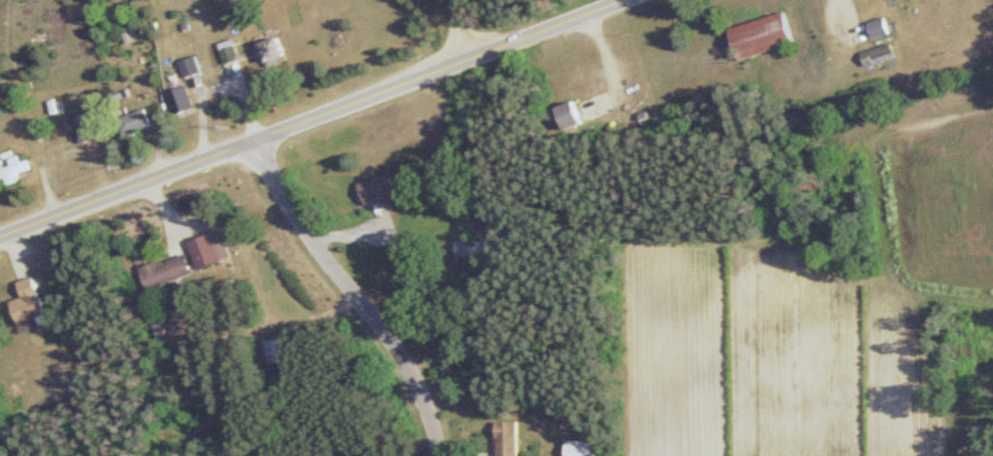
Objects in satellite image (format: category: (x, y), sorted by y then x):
building: (875, 30)
road: (455, 31)
building: (758, 38)
building: (227, 52)
building: (267, 55)
building: (875, 56)
building: (188, 68)
road: (214, 87)
building: (180, 102)
building: (565, 116)
road: (310, 118)
building: (132, 125)
building: (84, 128)
building: (13, 170)
building: (374, 188)
building: (471, 249)
building: (207, 250)
building: (164, 272)
road: (352, 296)
building: (25, 303)
building: (503, 439)
building: (577, 448)

